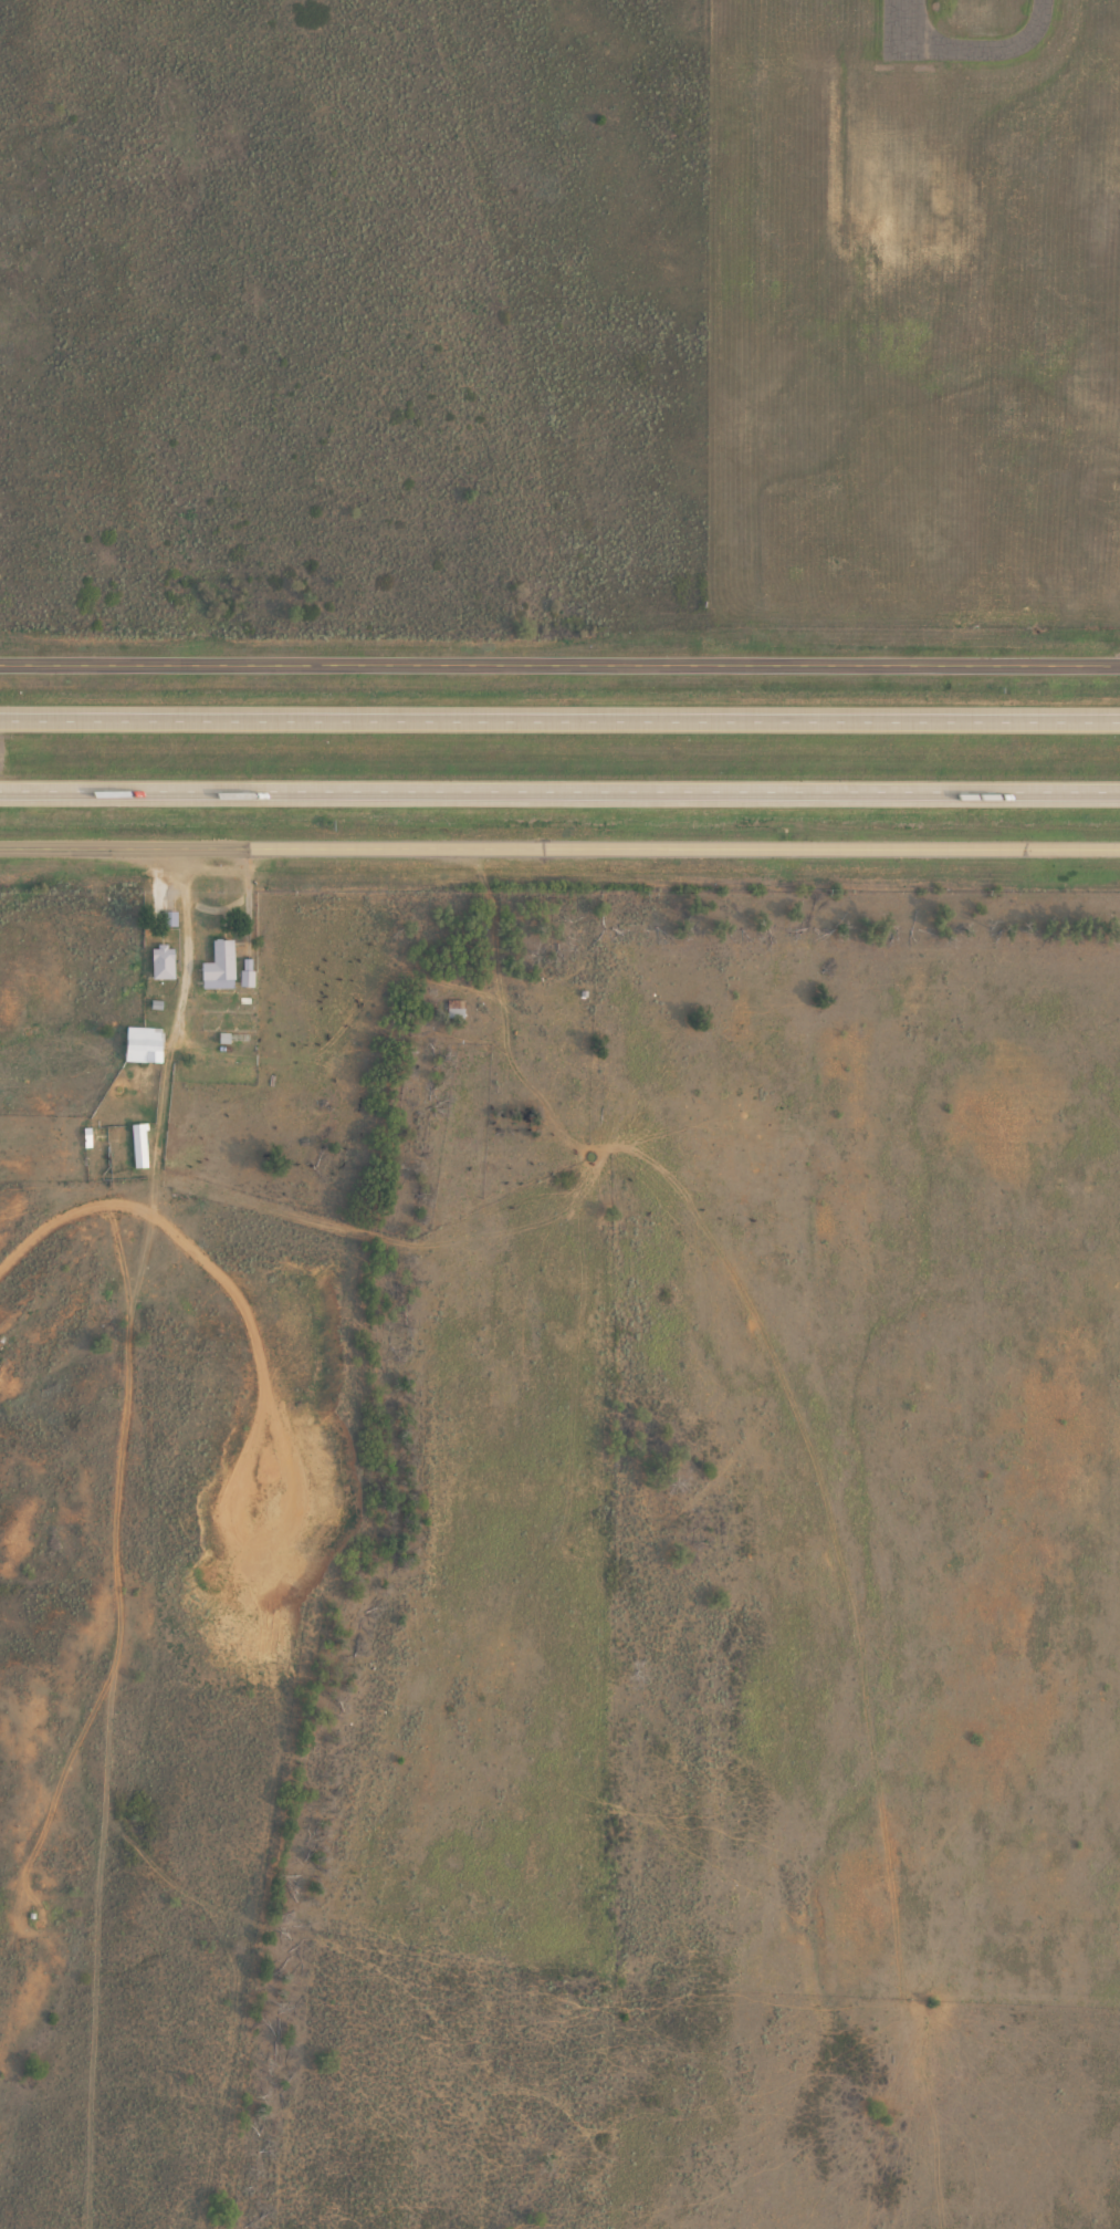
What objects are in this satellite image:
airport runway: (904, 28)
airport taxiway: (984, 49)
airport: (913, 310)
road: (559, 663)
road: (559, 717)
road: (559, 790)
road: (559, 847)
building: (167, 961)
building: (224, 966)
building: (250, 980)
building: (458, 1009)
building: (146, 1044)
building: (142, 1145)
road: (127, 1324)

